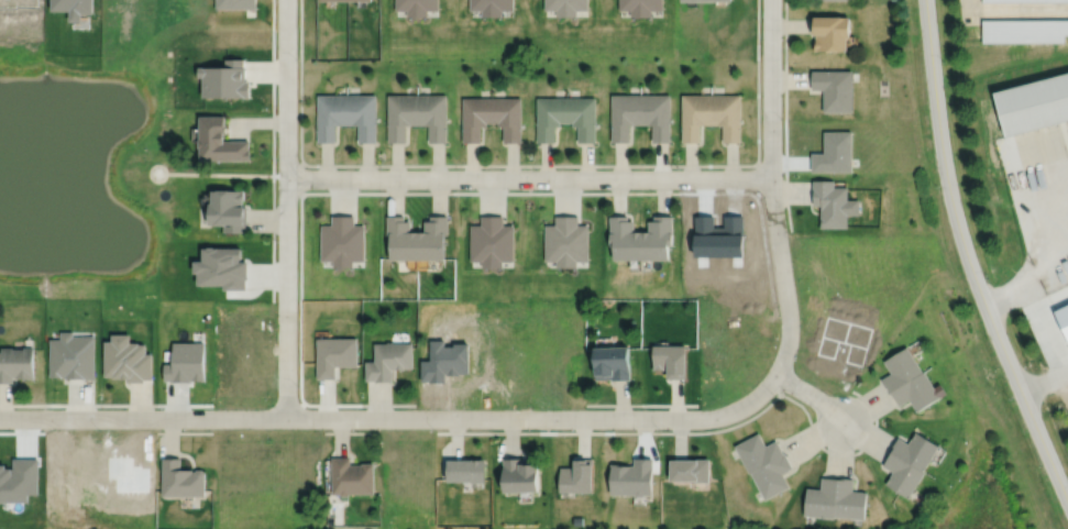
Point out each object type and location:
building: (362, 0)
building: (335, 1)
building: (694, 1)
building: (720, 1)
building: (835, 1)
building: (236, 4)
building: (418, 7)
building: (491, 7)
building: (565, 7)
building: (641, 7)
road: (1013, 9)
building: (1025, 31)
building: (832, 34)
road: (784, 58)
building: (227, 79)
building: (835, 89)
building: (1034, 101)
building: (331, 113)
building: (363, 113)
building: (401, 113)
building: (433, 113)
building: (695, 113)
building: (727, 113)
building: (475, 115)
building: (507, 115)
building: (549, 115)
building: (581, 115)
building: (624, 115)
building: (657, 115)
building: (220, 139)
road: (273, 150)
road: (530, 164)
building: (157, 170)
road: (219, 173)
road: (529, 177)
road: (771, 188)
road: (488, 192)
road: (785, 200)
building: (834, 201)
building: (228, 208)
road: (286, 208)
building: (401, 236)
building: (433, 236)
building: (624, 236)
building: (657, 236)
building: (343, 240)
building: (491, 240)
building: (565, 240)
road: (967, 257)
building: (222, 266)
road: (1027, 286)
road: (1053, 323)
road: (300, 338)
building: (335, 353)
building: (71, 354)
building: (126, 357)
building: (389, 359)
building: (670, 359)
building: (186, 361)
building: (16, 362)
building: (612, 362)
building: (901, 368)
road: (1045, 383)
building: (920, 392)
road: (811, 396)
road: (93, 404)
road: (640, 404)
road: (395, 418)
road: (184, 431)
road: (350, 431)
road: (708, 431)
building: (916, 450)
building: (758, 451)
building: (469, 470)
building: (690, 470)
building: (519, 474)
building: (903, 474)
building: (576, 475)
building: (772, 475)
building: (352, 476)
building: (631, 477)
building: (181, 478)
building: (822, 498)
building: (849, 499)

